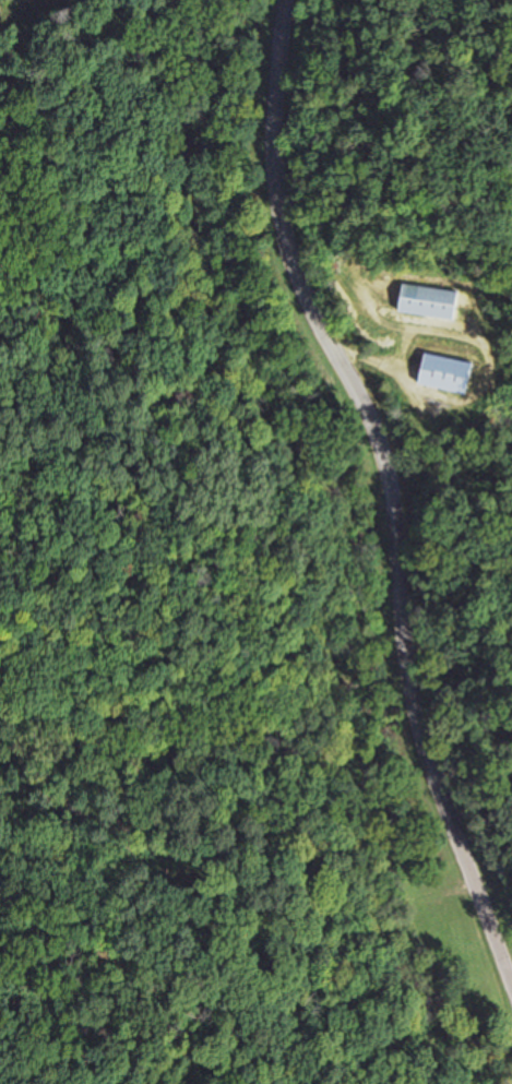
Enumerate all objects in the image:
road: (373, 540)
building: (422, 897)

